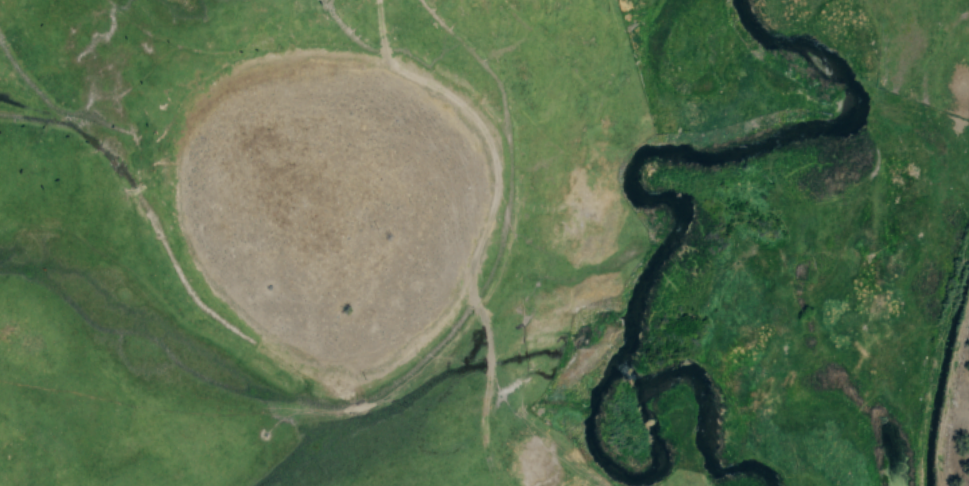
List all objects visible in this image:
river: (717, 157)
river: (651, 433)

